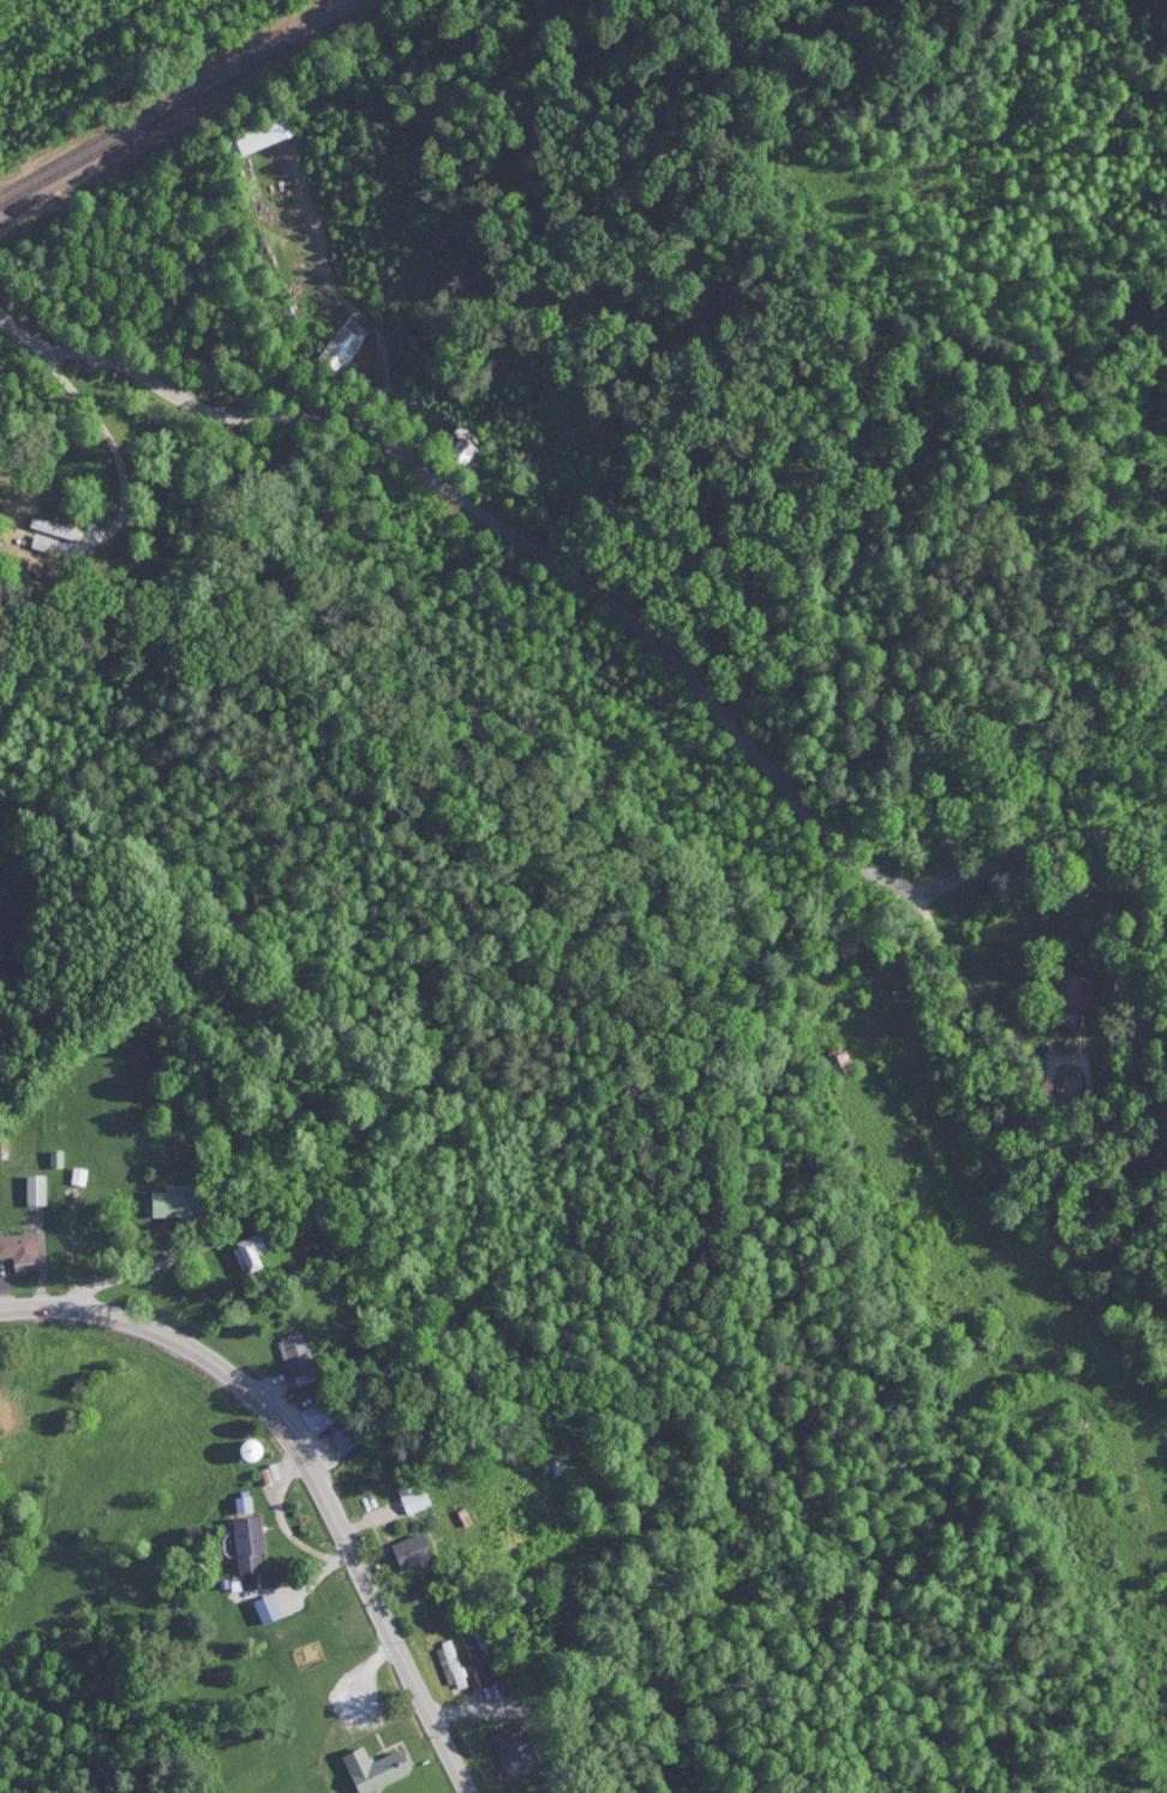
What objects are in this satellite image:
railway: (182, 101)
building: (257, 137)
road: (330, 282)
building: (337, 342)
road: (310, 392)
road: (113, 444)
building: (462, 452)
building: (55, 528)
road: (606, 601)
building: (1070, 996)
building: (836, 1062)
road: (1004, 1074)
building: (1071, 1091)
building: (5, 1150)
building: (58, 1161)
building: (80, 1176)
building: (32, 1188)
building: (168, 1201)
building: (16, 1246)
building: (244, 1251)
road: (125, 1278)
building: (297, 1360)
building: (315, 1414)
building: (342, 1438)
building: (244, 1447)
road: (305, 1464)
building: (551, 1465)
building: (408, 1494)
road: (291, 1525)
building: (241, 1530)
building: (406, 1554)
road: (312, 1581)
building: (264, 1611)
building: (477, 1657)
building: (448, 1663)
building: (514, 1749)
building: (366, 1767)

